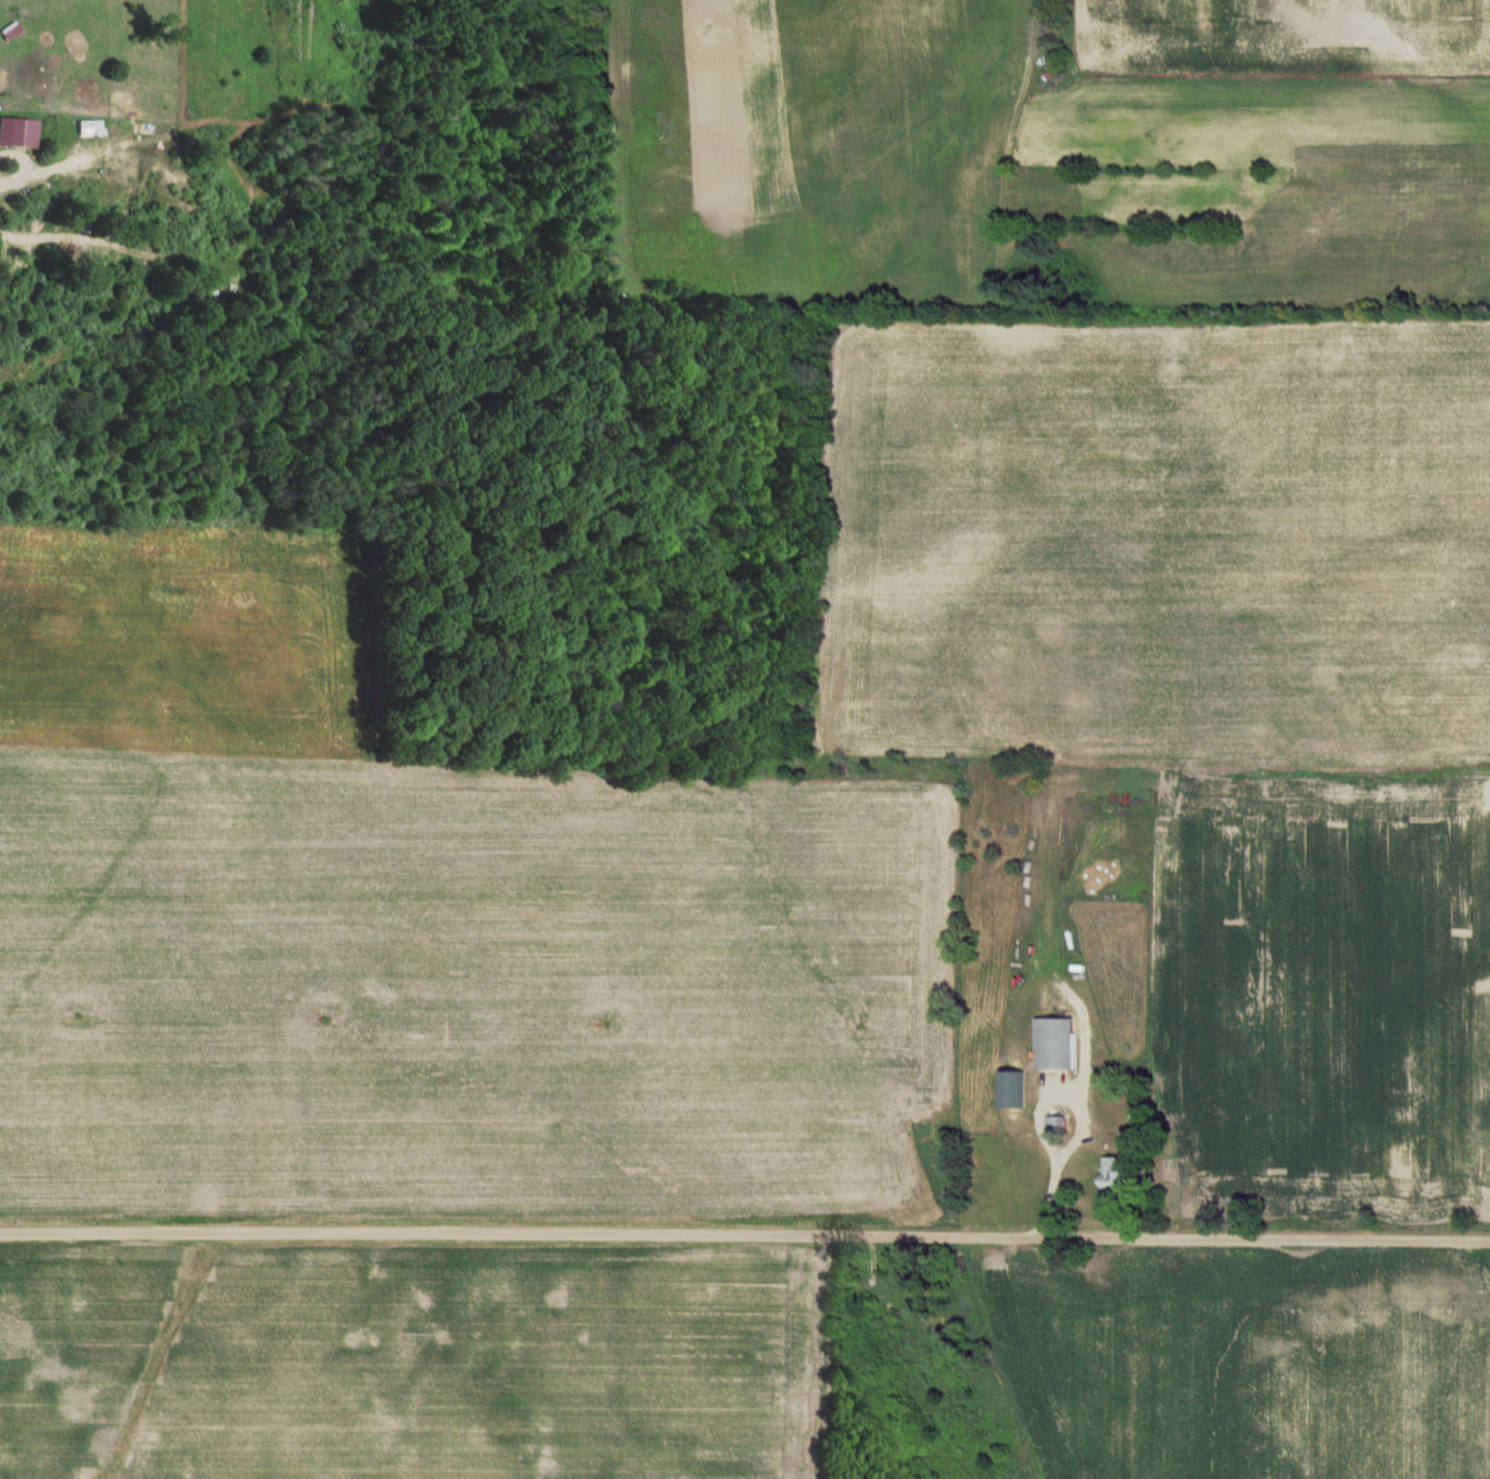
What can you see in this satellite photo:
road: (34, 178)
building: (1059, 1044)
building: (1012, 1090)
road: (1070, 1116)
building: (1104, 1117)
building: (1057, 1124)
building: (1116, 1174)
road: (744, 1237)

